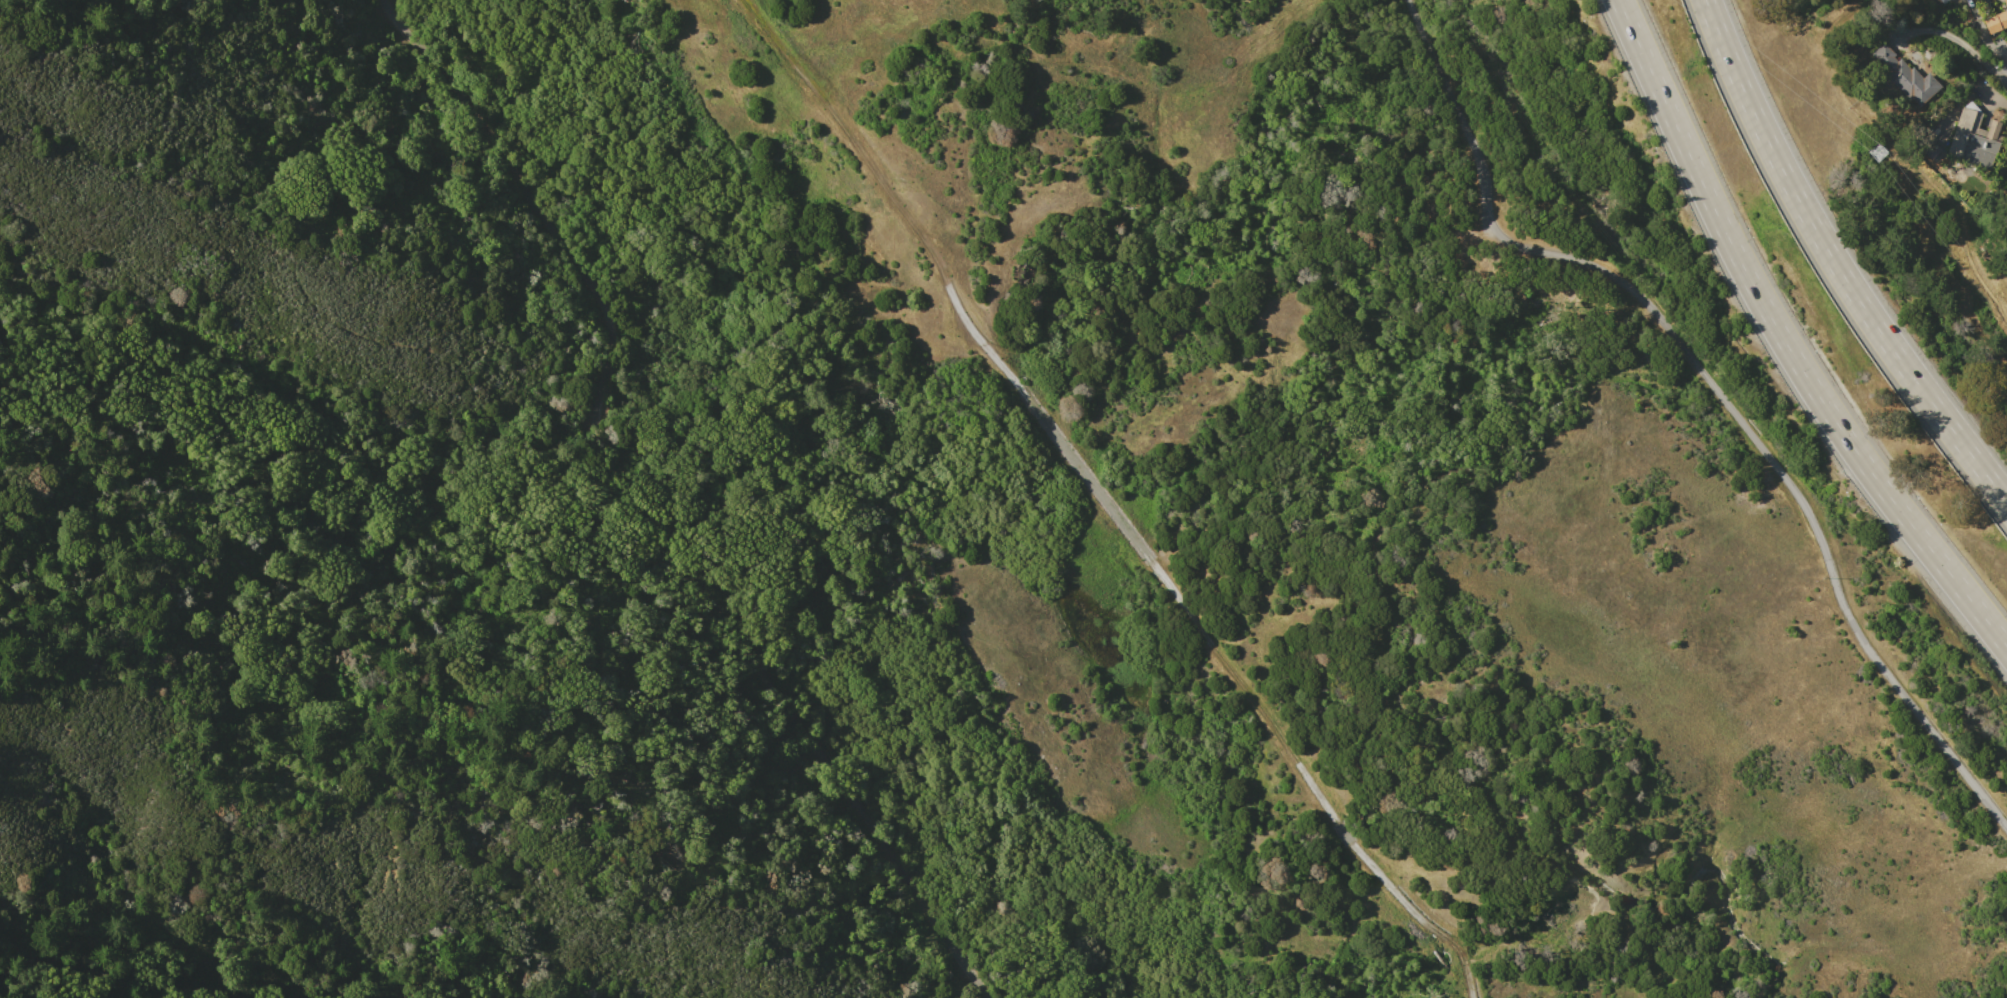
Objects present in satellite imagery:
building: (2006, 2)
building: (1996, 22)
road: (1952, 38)
building: (1903, 75)
building: (1972, 138)
road: (851, 139)
power tower: (1876, 151)
road: (1835, 264)
road: (1782, 341)
road: (1717, 384)
road: (1077, 465)
road: (644, 511)
road: (1254, 702)
road: (1384, 881)

